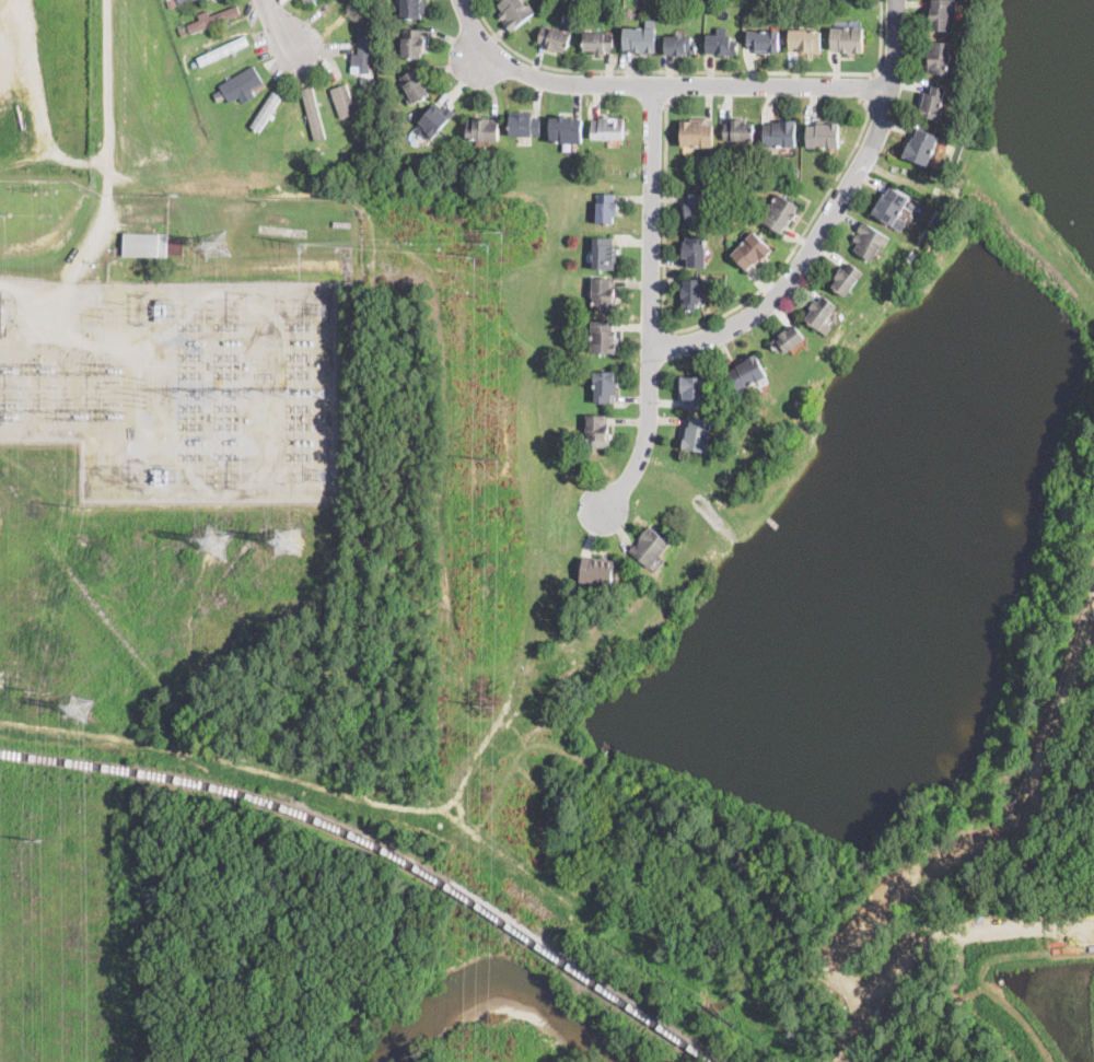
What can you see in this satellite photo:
building: (182, 0)
building: (186, 0)
building: (307, 1)
building: (172, 2)
building: (363, 3)
building: (412, 9)
building: (516, 13)
building: (941, 15)
building: (214, 19)
road: (281, 27)
building: (184, 32)
building: (555, 39)
building: (639, 39)
building: (847, 39)
building: (764, 40)
building: (804, 40)
building: (600, 43)
building: (414, 44)
building: (721, 44)
building: (679, 45)
building: (223, 49)
building: (364, 49)
building: (939, 57)
building: (194, 62)
road: (697, 70)
road: (105, 79)
building: (365, 79)
building: (242, 82)
road: (655, 84)
building: (415, 86)
road: (871, 86)
building: (219, 95)
landfill: (88, 97)
building: (346, 100)
building: (932, 103)
building: (266, 109)
building: (314, 112)
building: (439, 120)
building: (525, 125)
building: (608, 128)
building: (485, 129)
building: (567, 130)
building: (738, 130)
building: (696, 133)
building: (780, 133)
building: (823, 136)
building: (920, 147)
building: (317, 152)
building: (794, 171)
building: (631, 174)
power tower: (44, 191)
building: (912, 203)
building: (891, 206)
building: (244, 207)
building: (606, 208)
building: (695, 209)
building: (780, 213)
road: (828, 219)
power tower: (303, 241)
power tower: (490, 241)
building: (870, 241)
power tower: (212, 244)
building: (146, 245)
building: (176, 247)
building: (693, 250)
building: (752, 250)
building: (604, 253)
building: (846, 278)
building: (604, 294)
building: (690, 294)
road: (649, 303)
power tower: (113, 308)
power tower: (147, 308)
building: (821, 312)
building: (0, 316)
road: (709, 318)
building: (605, 337)
building: (788, 340)
power tower: (113, 372)
building: (747, 372)
power tower: (45, 374)
power substation: (176, 384)
building: (605, 386)
building: (695, 392)
power tower: (12, 413)
power tower: (79, 413)
power tower: (114, 416)
building: (600, 431)
building: (697, 434)
power tower: (488, 458)
power tower: (114, 475)
power tower: (146, 475)
power tower: (77, 506)
power tower: (287, 539)
power tower: (216, 540)
building: (649, 546)
building: (597, 571)
power tower: (38, 688)
power tower: (78, 705)
power tower: (484, 705)
park: (895, 717)
power tower: (32, 835)
park: (526, 1010)
park: (637, 1058)

